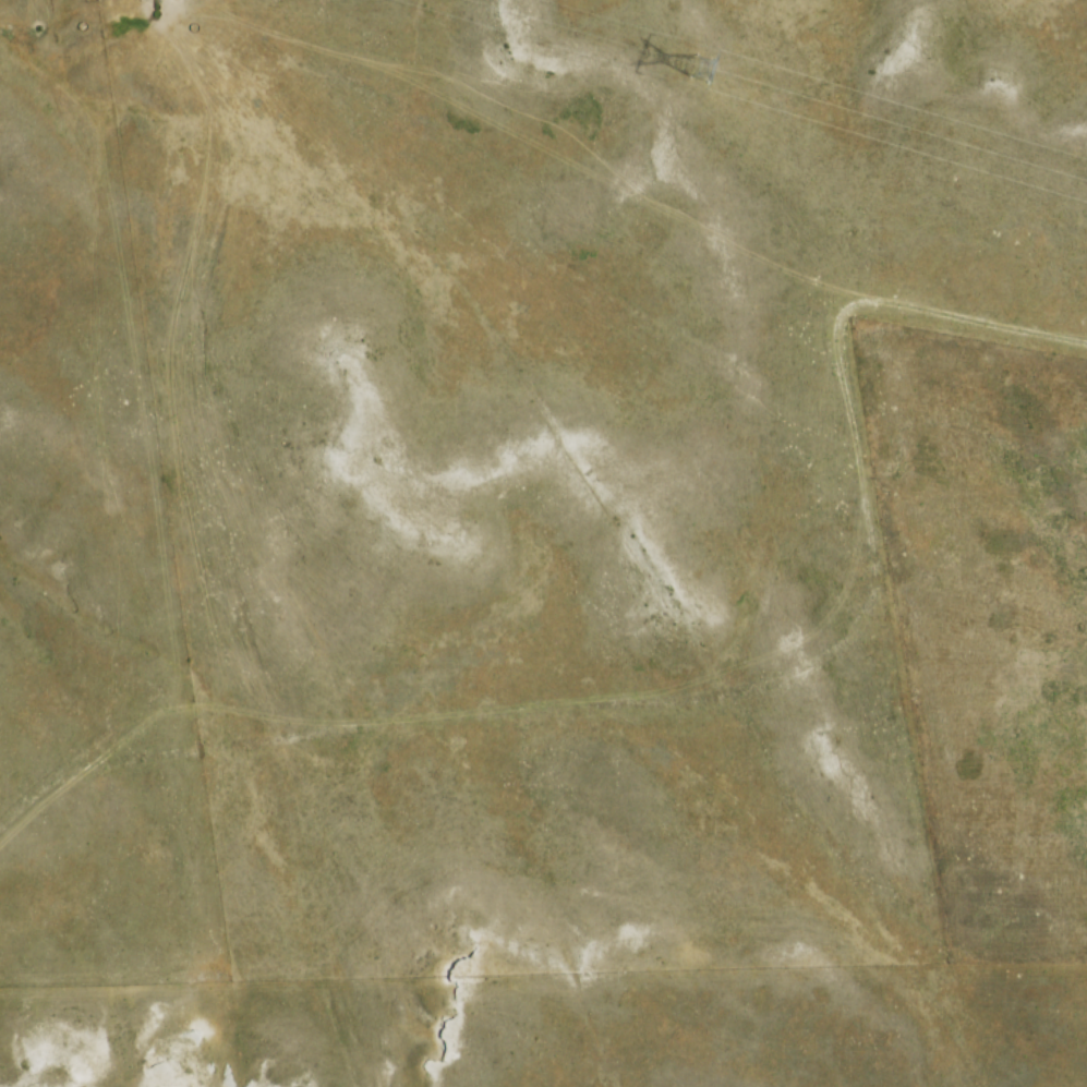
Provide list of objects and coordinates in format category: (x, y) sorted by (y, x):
power tower: (700, 62)

